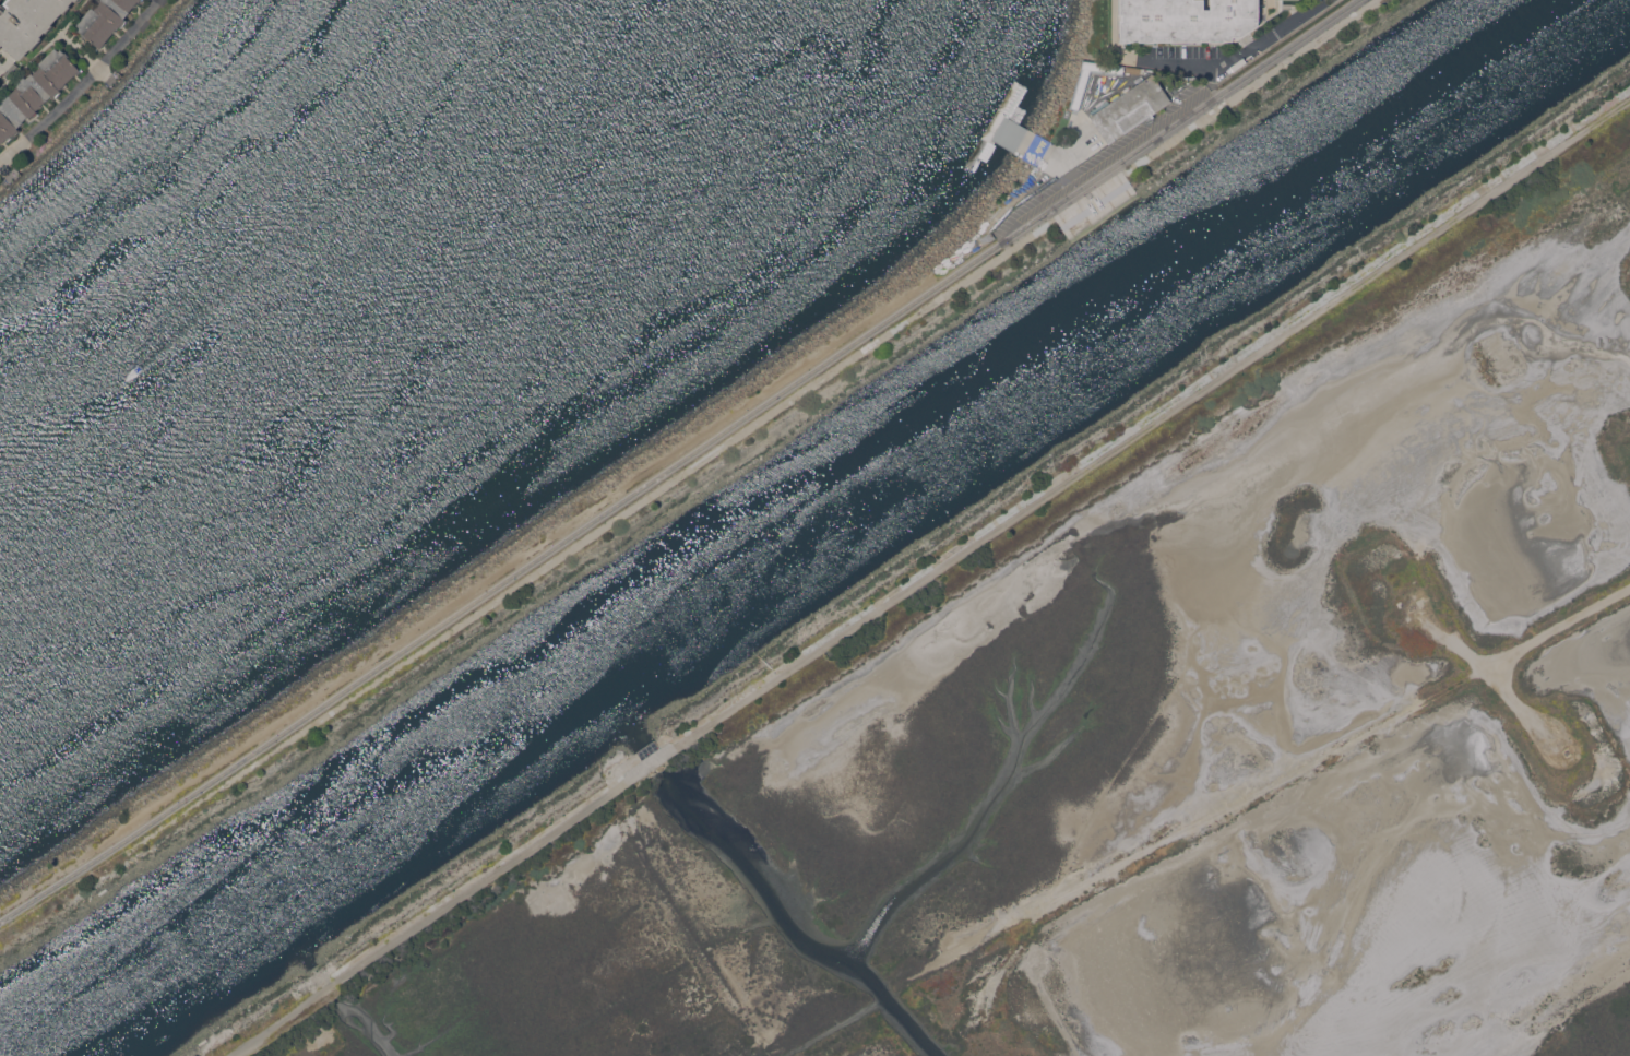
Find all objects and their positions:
building: (75, 0)
building: (104, 20)
building: (1187, 20)
building: (27, 22)
road: (1116, 34)
road: (1284, 48)
parking lot: (1183, 55)
road: (1233, 59)
building: (1133, 69)
road: (1212, 78)
road: (84, 86)
building: (1078, 90)
building: (34, 91)
building: (1130, 108)
pier: (998, 118)
road: (1116, 152)
parking lot: (1103, 155)
road: (1106, 168)
road: (1026, 174)
road: (992, 221)
road: (1152, 420)
road: (499, 580)
road: (1551, 630)
road: (1485, 660)
road: (1509, 668)
road: (1492, 679)
road: (653, 764)
road: (1258, 790)
road: (428, 918)
road: (1008, 960)

